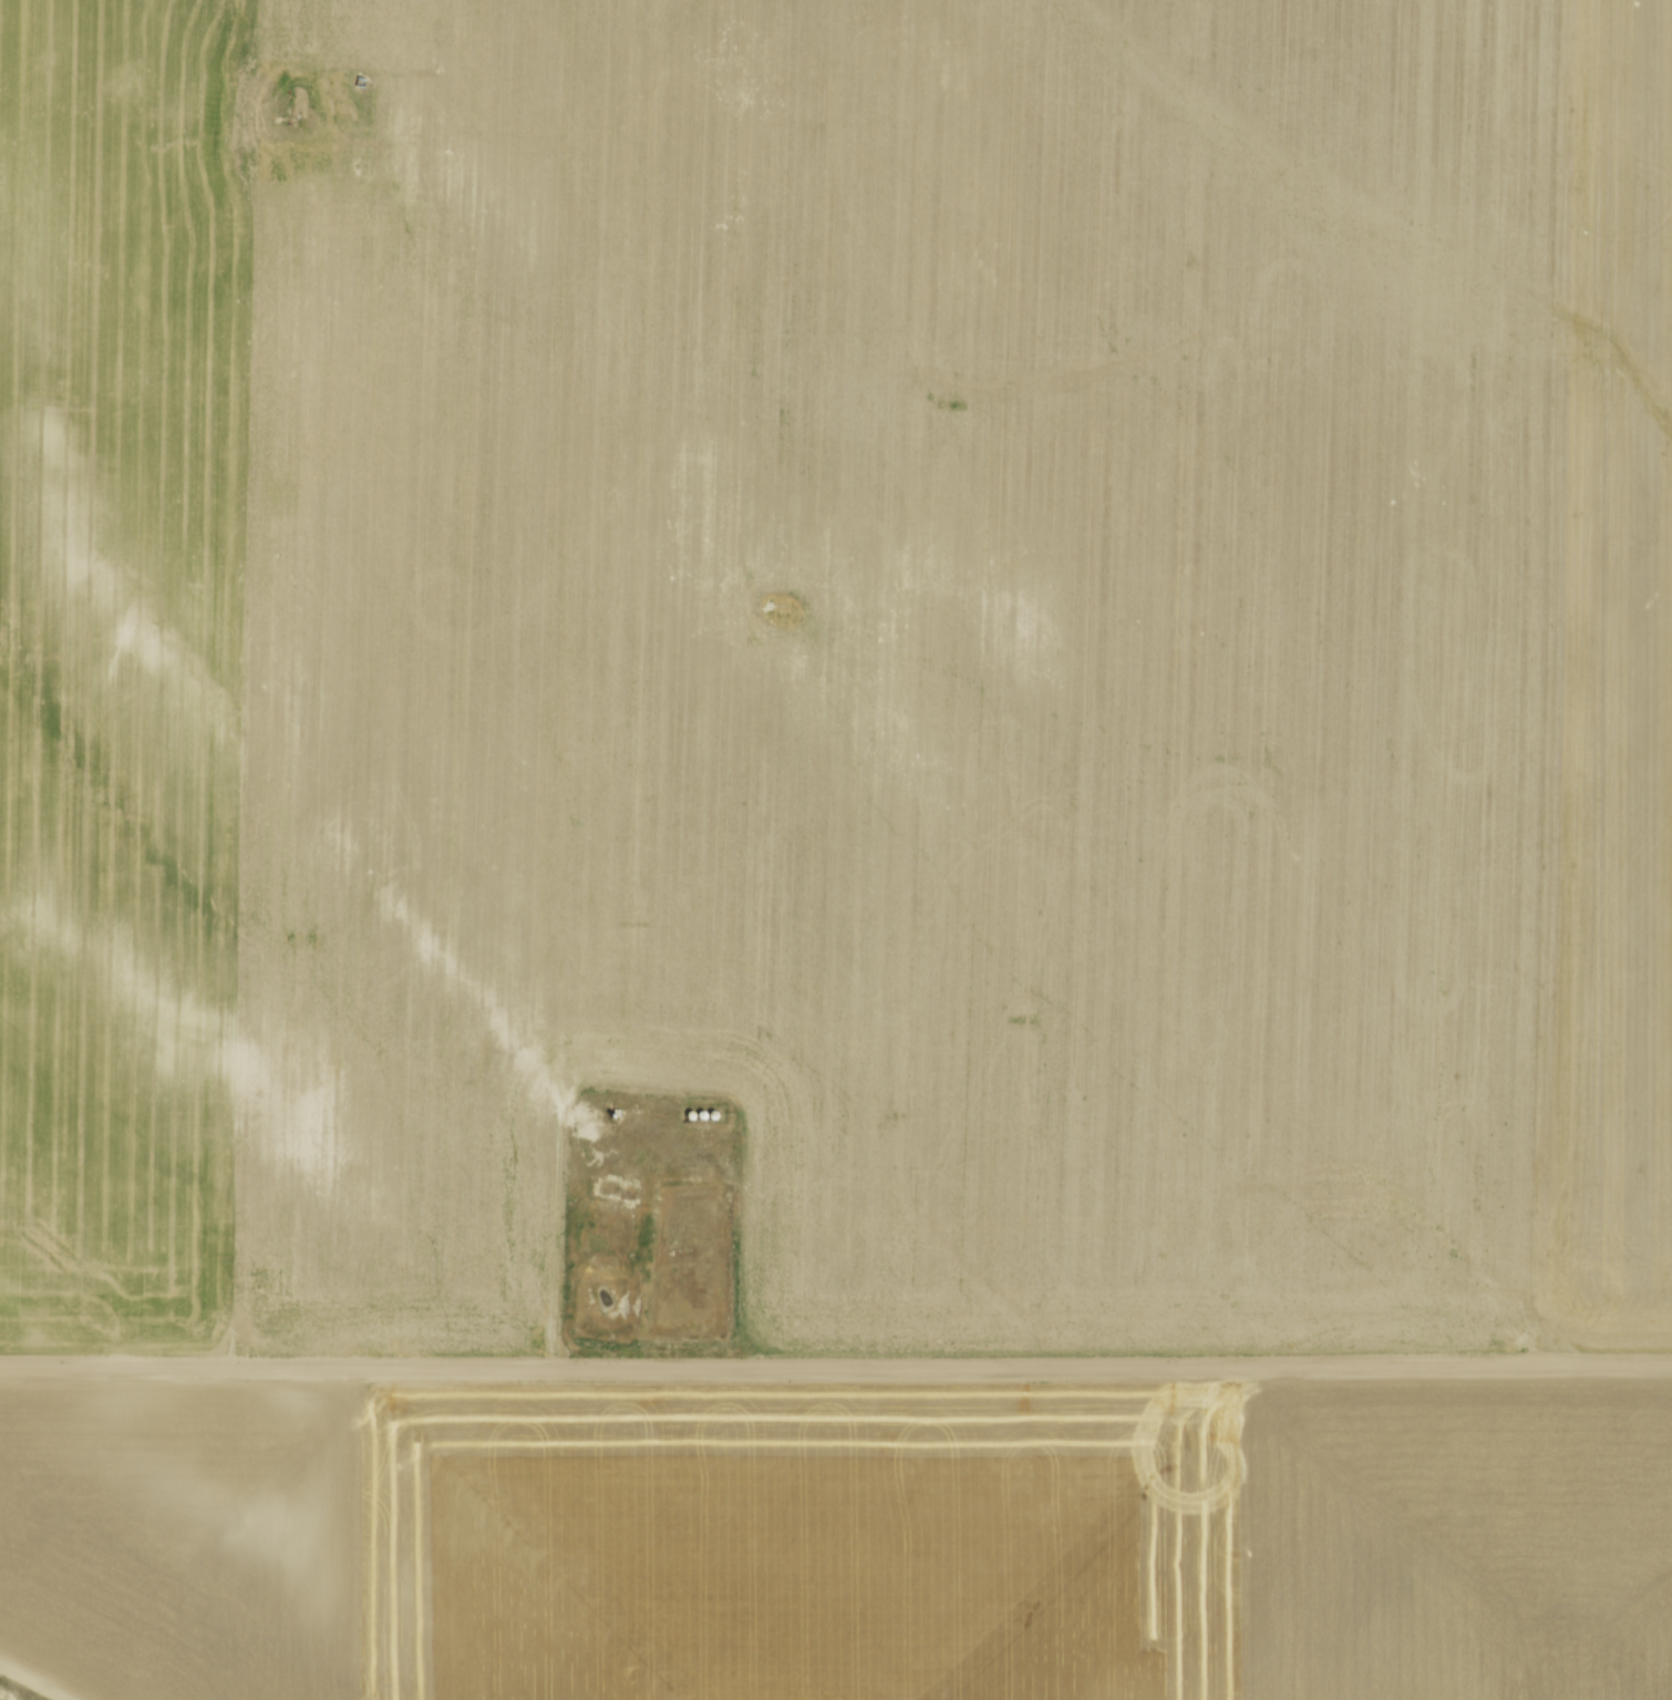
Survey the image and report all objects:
crop: (839, 660)
road: (836, 1371)

